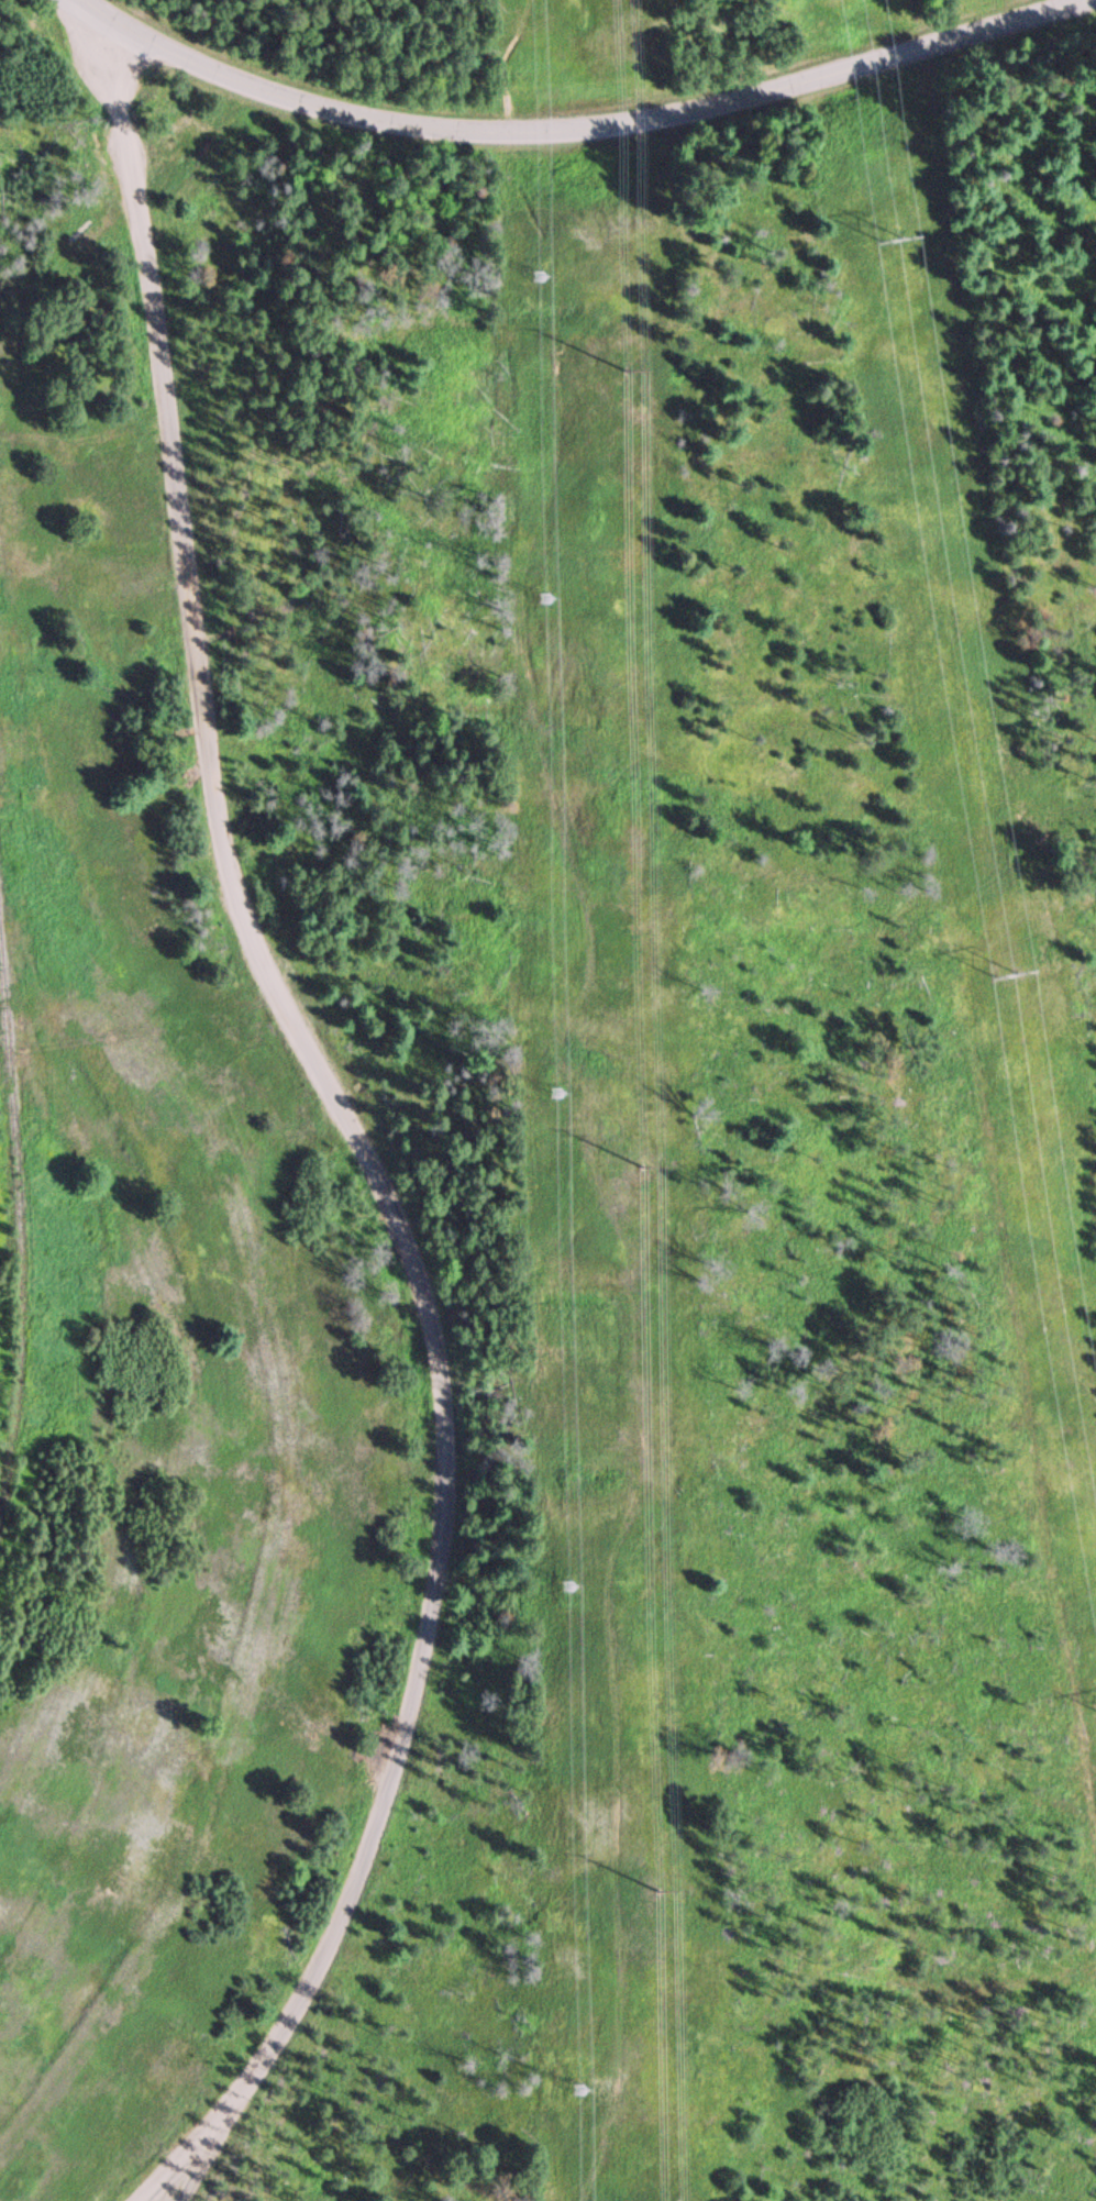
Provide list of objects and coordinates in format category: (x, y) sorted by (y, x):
road: (82, 43)
road: (586, 128)
power tower: (894, 241)
power tower: (544, 276)
power tower: (654, 369)
power tower: (550, 596)
power tower: (1004, 976)
power tower: (561, 1093)
road: (365, 1146)
power tower: (671, 1166)
railway: (18, 1240)
power tower: (575, 1583)
power tower: (686, 1894)
power tower: (577, 2090)

